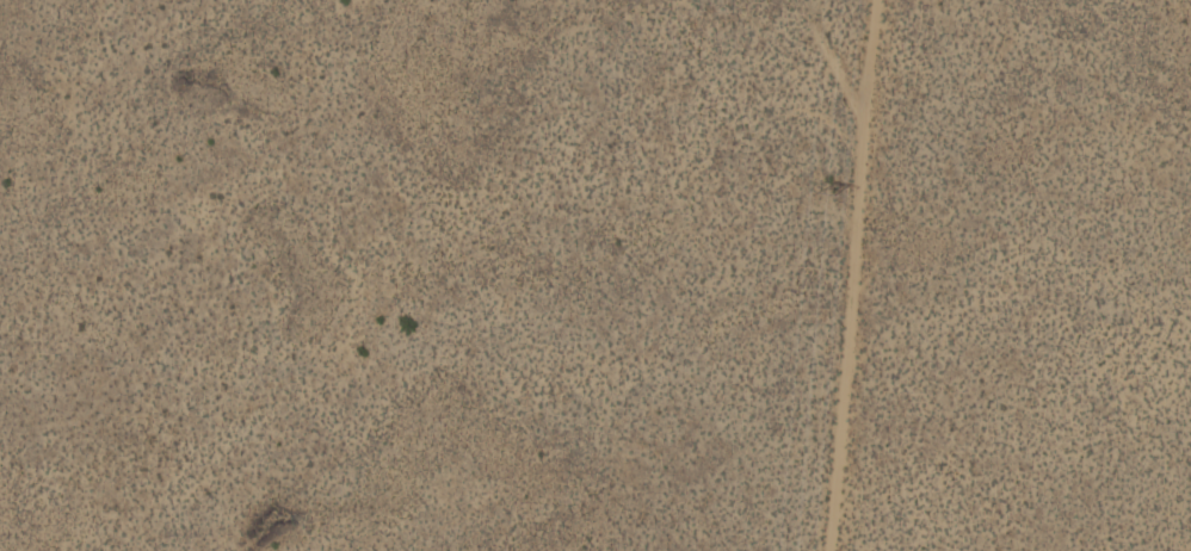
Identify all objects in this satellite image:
power tower: (835, 198)
road: (920, 275)

